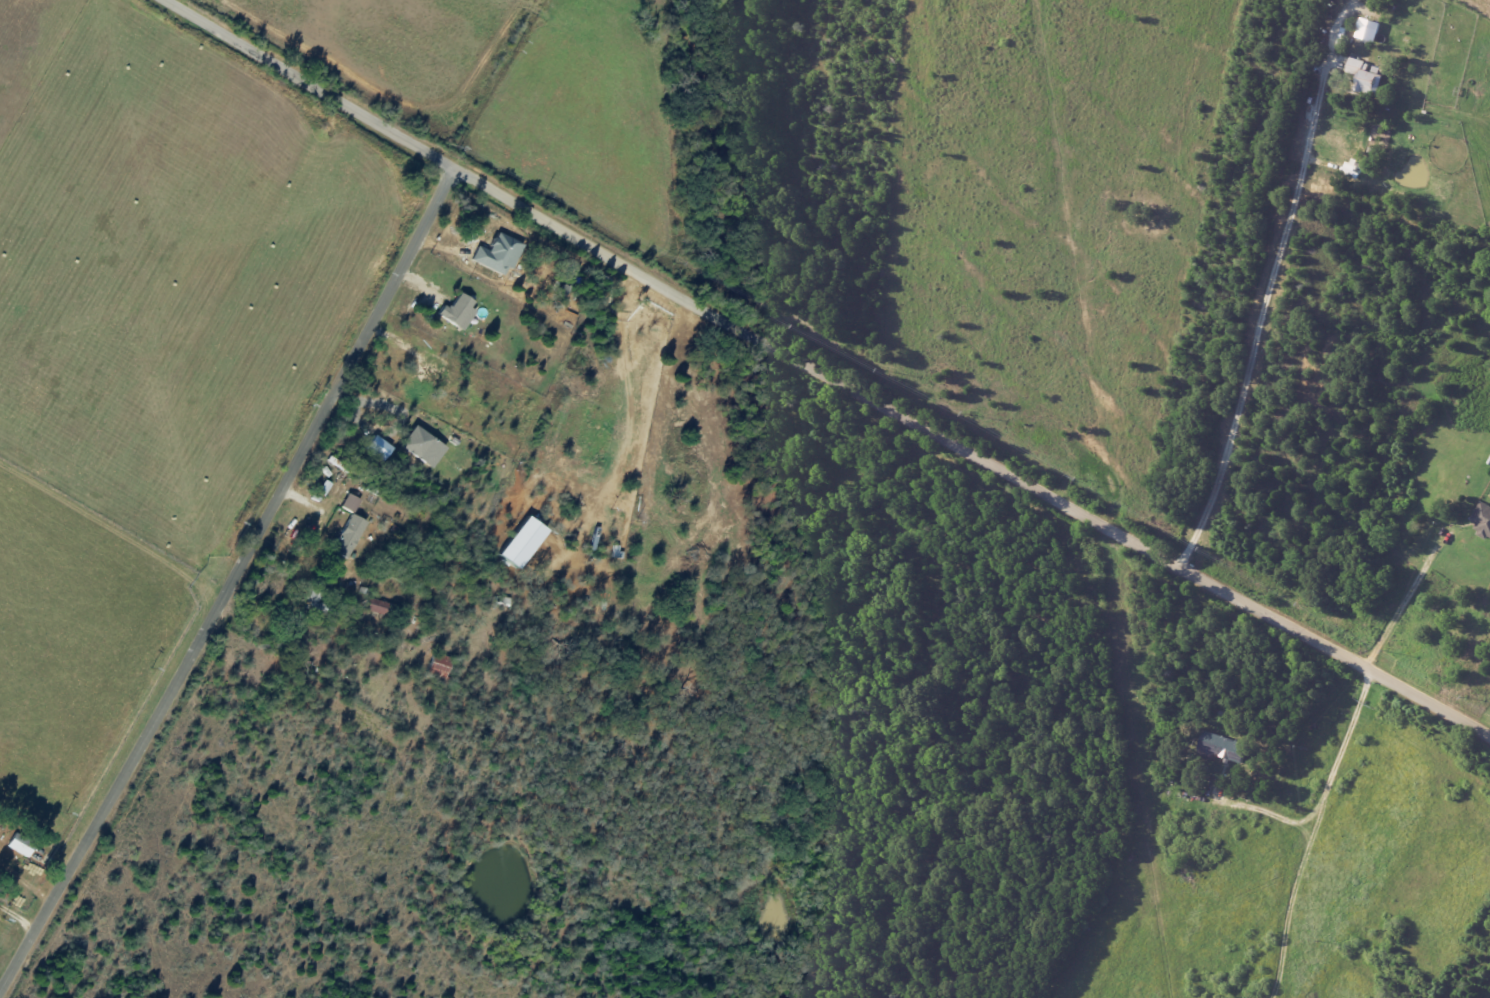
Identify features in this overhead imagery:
road: (158, 2)
building: (1370, 29)
building: (1356, 66)
building: (1373, 82)
building: (499, 253)
building: (459, 311)
road: (1260, 317)
road: (819, 372)
building: (424, 445)
building: (352, 502)
building: (1483, 519)
building: (350, 535)
road: (230, 582)
road: (1409, 592)
building: (378, 606)
building: (441, 665)
building: (1224, 747)
road: (1317, 832)
building: (22, 844)
road: (17, 915)

